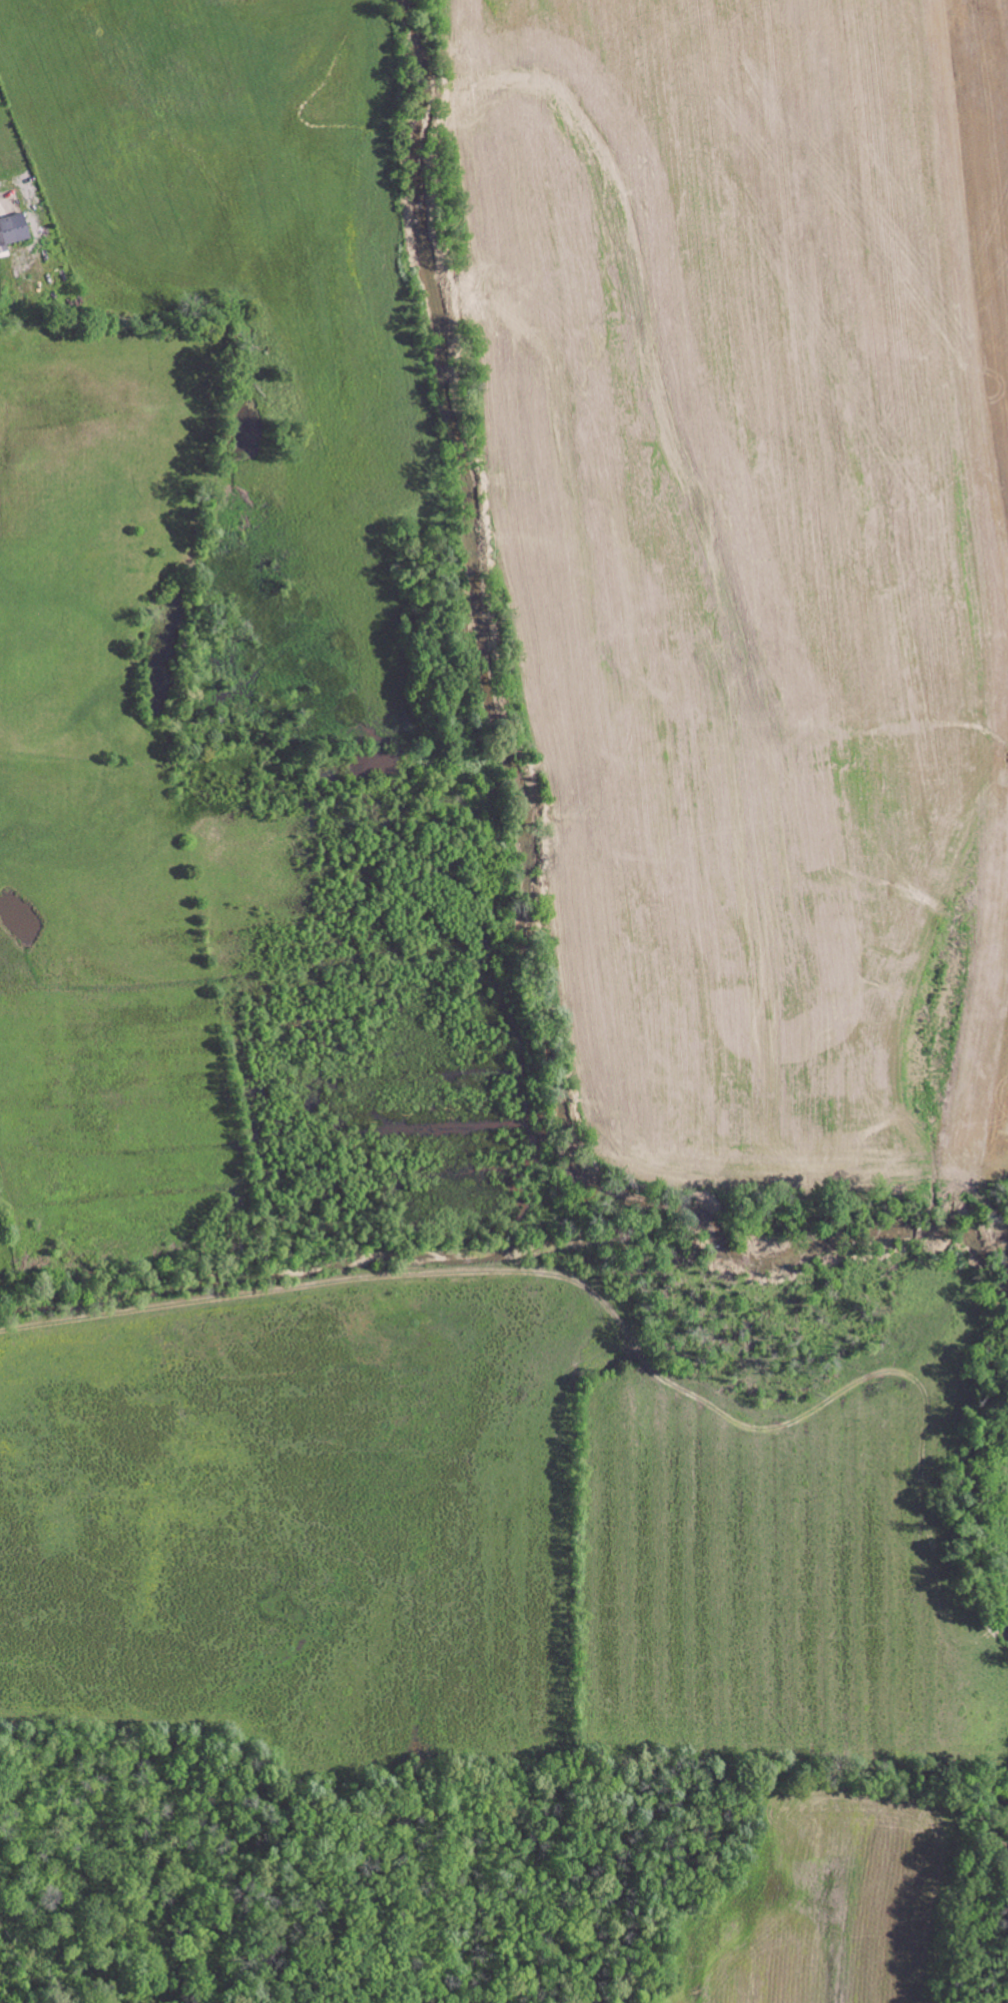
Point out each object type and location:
building: (15, 231)

